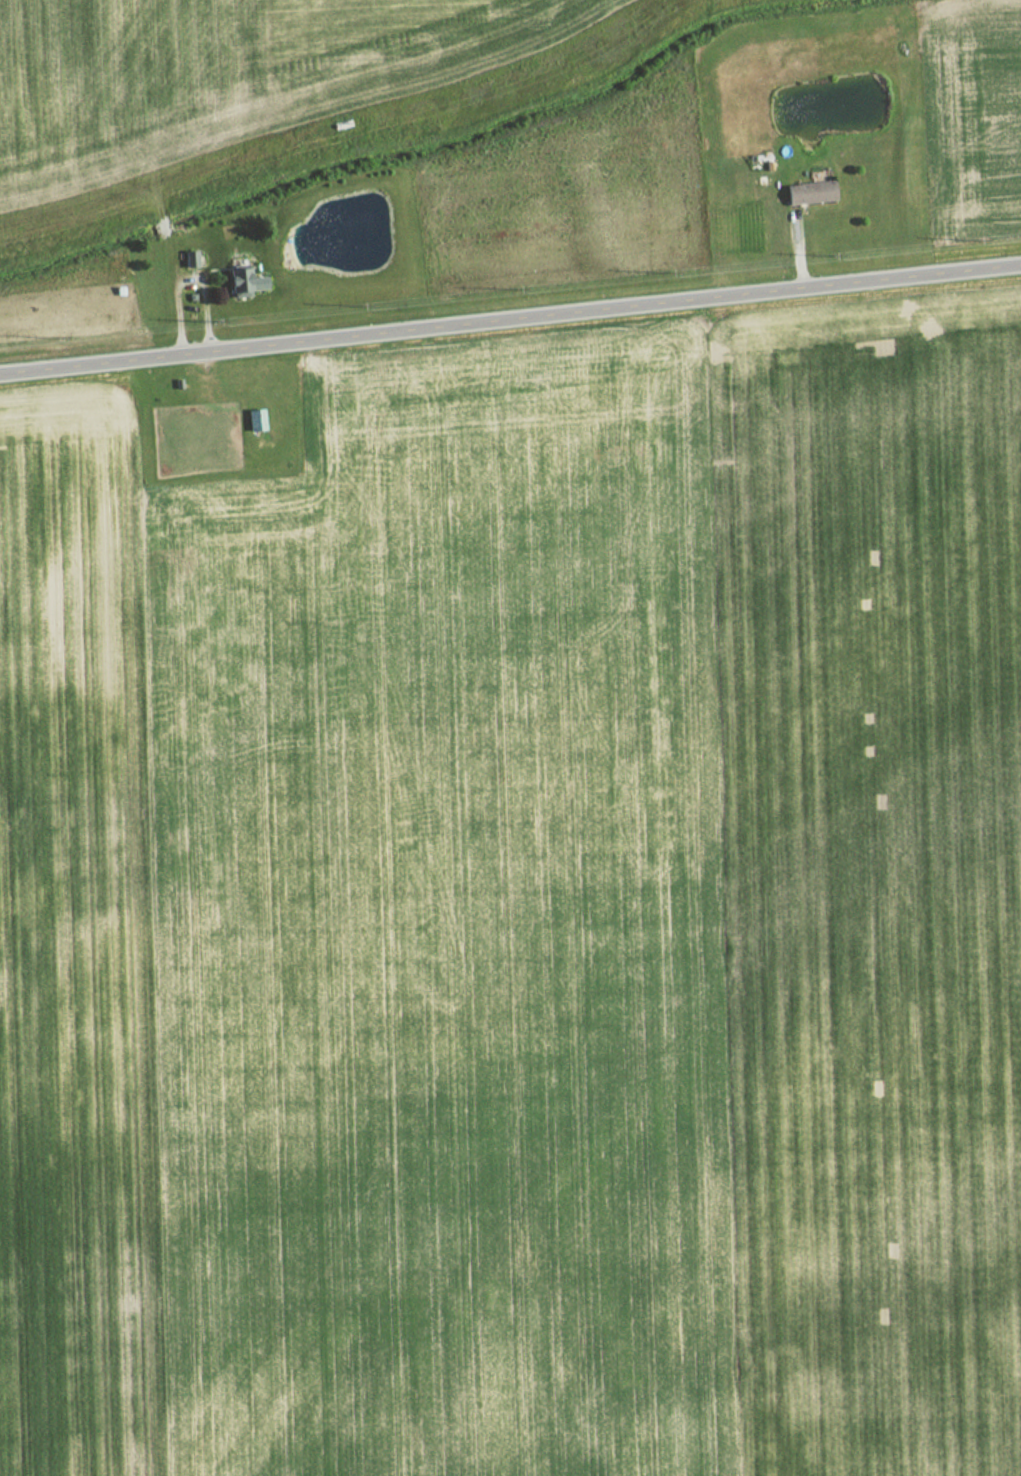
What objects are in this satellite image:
crop: (231, 67)
crop: (974, 108)
crop: (577, 186)
road: (182, 275)
road: (510, 319)
crop: (524, 919)

